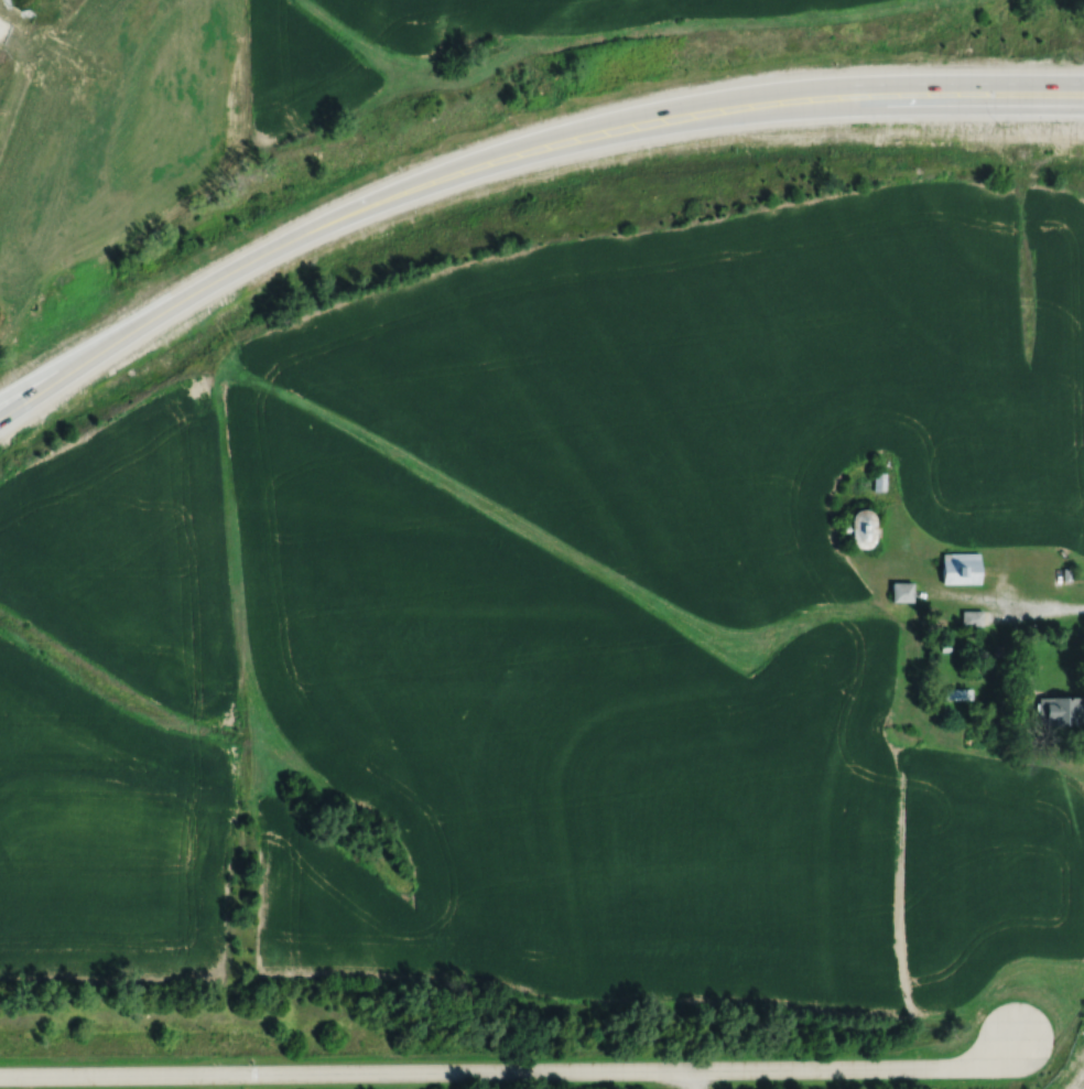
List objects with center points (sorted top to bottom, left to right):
road: (926, 80)
road: (1045, 104)
road: (654, 106)
road: (774, 115)
road: (258, 254)
building: (879, 481)
building: (861, 528)
building: (962, 568)
building: (902, 591)
road: (1010, 603)
building: (972, 618)
building: (960, 694)
building: (1061, 711)
road: (510, 1070)
road: (694, 1078)

